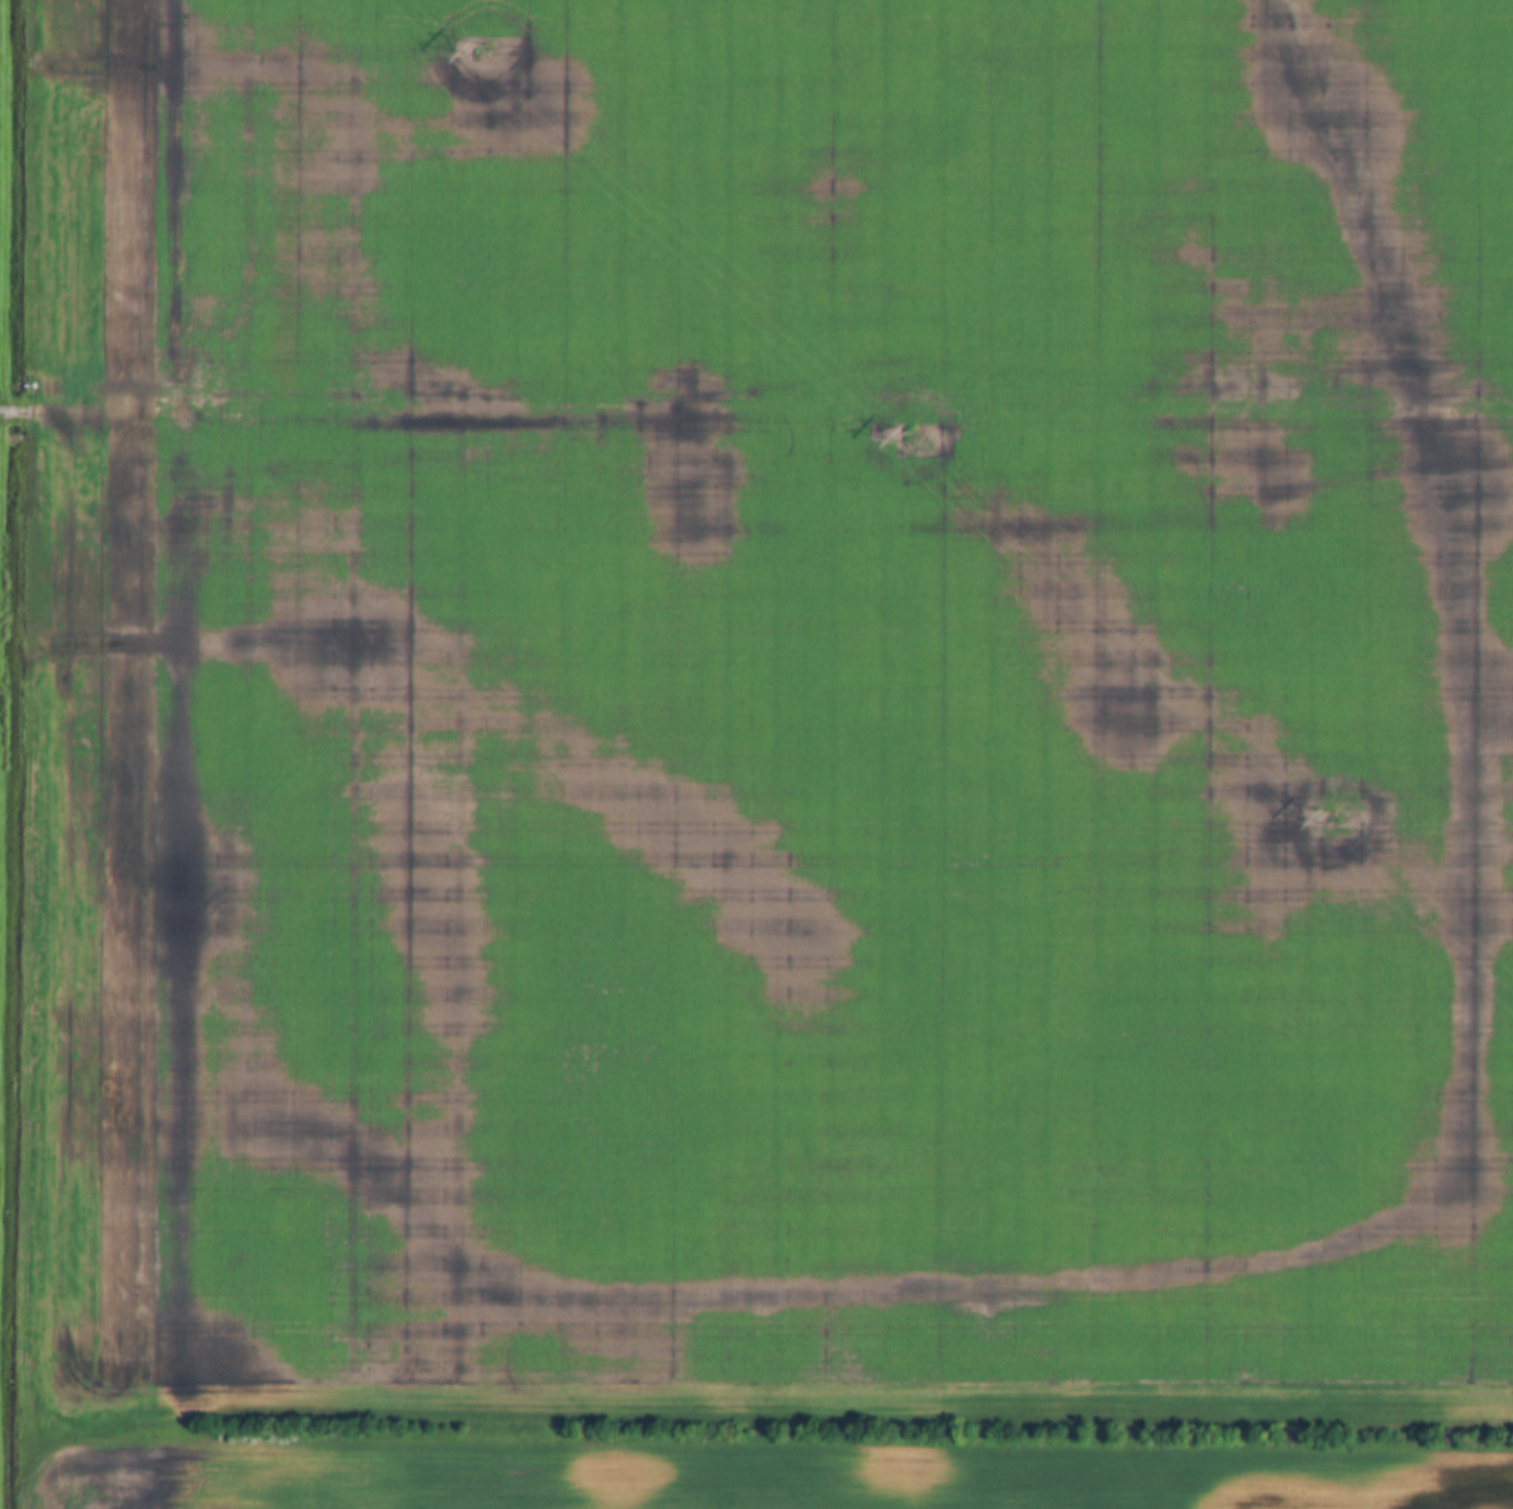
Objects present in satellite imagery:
power tower: (479, 51)
power tower: (907, 438)
power tower: (1326, 819)

